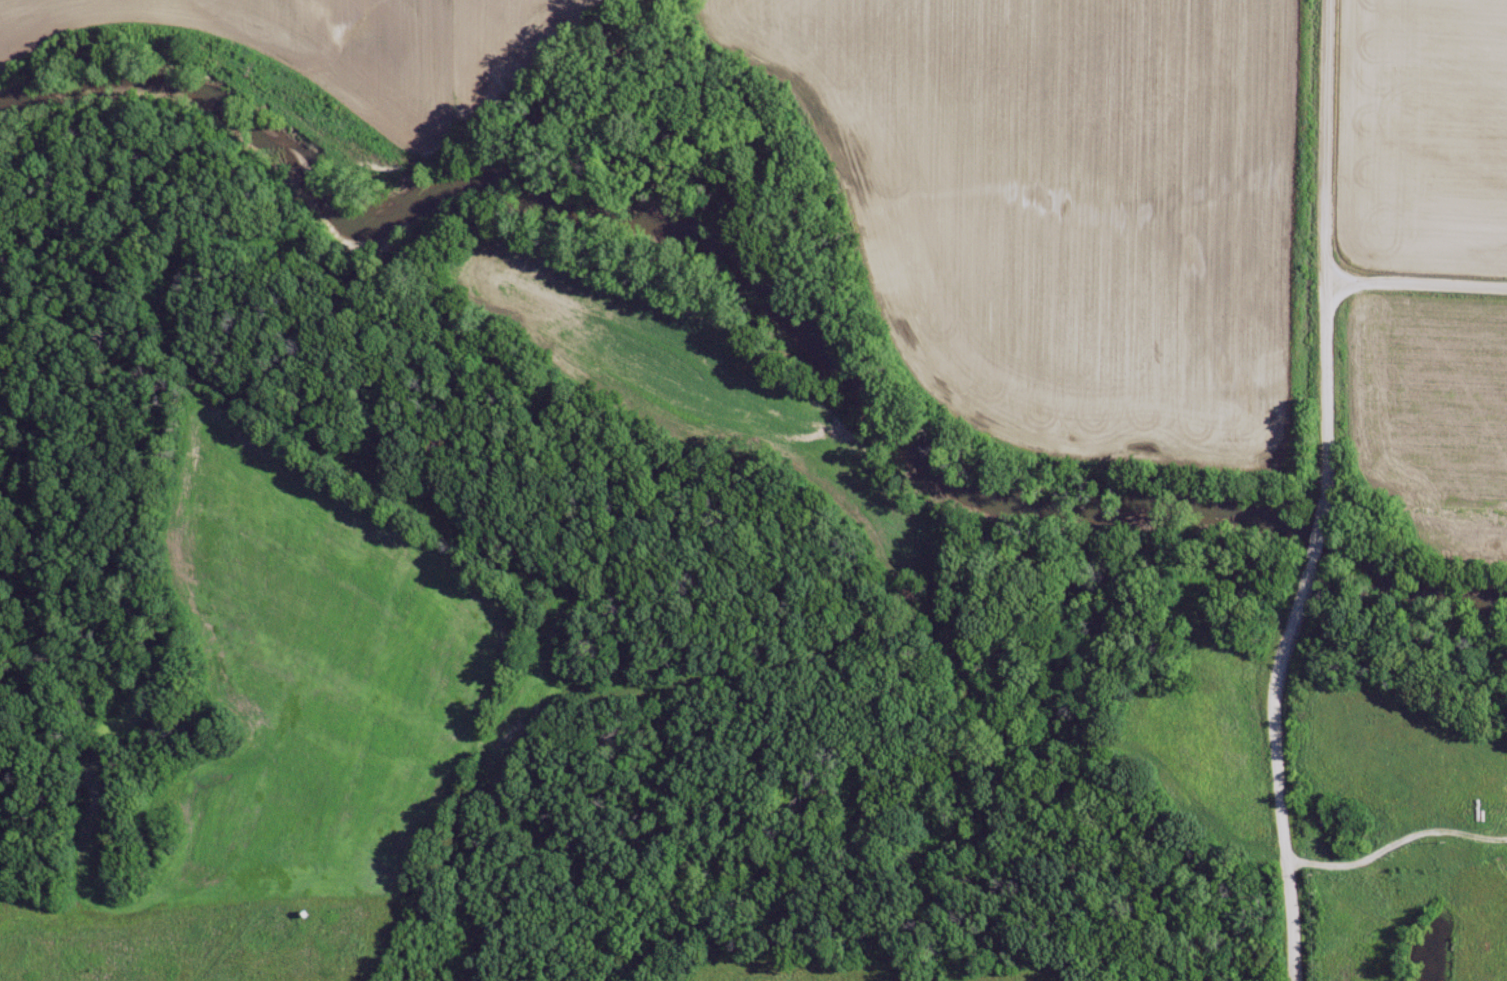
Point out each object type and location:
road: (1419, 286)
road: (1333, 496)
road: (1393, 844)

